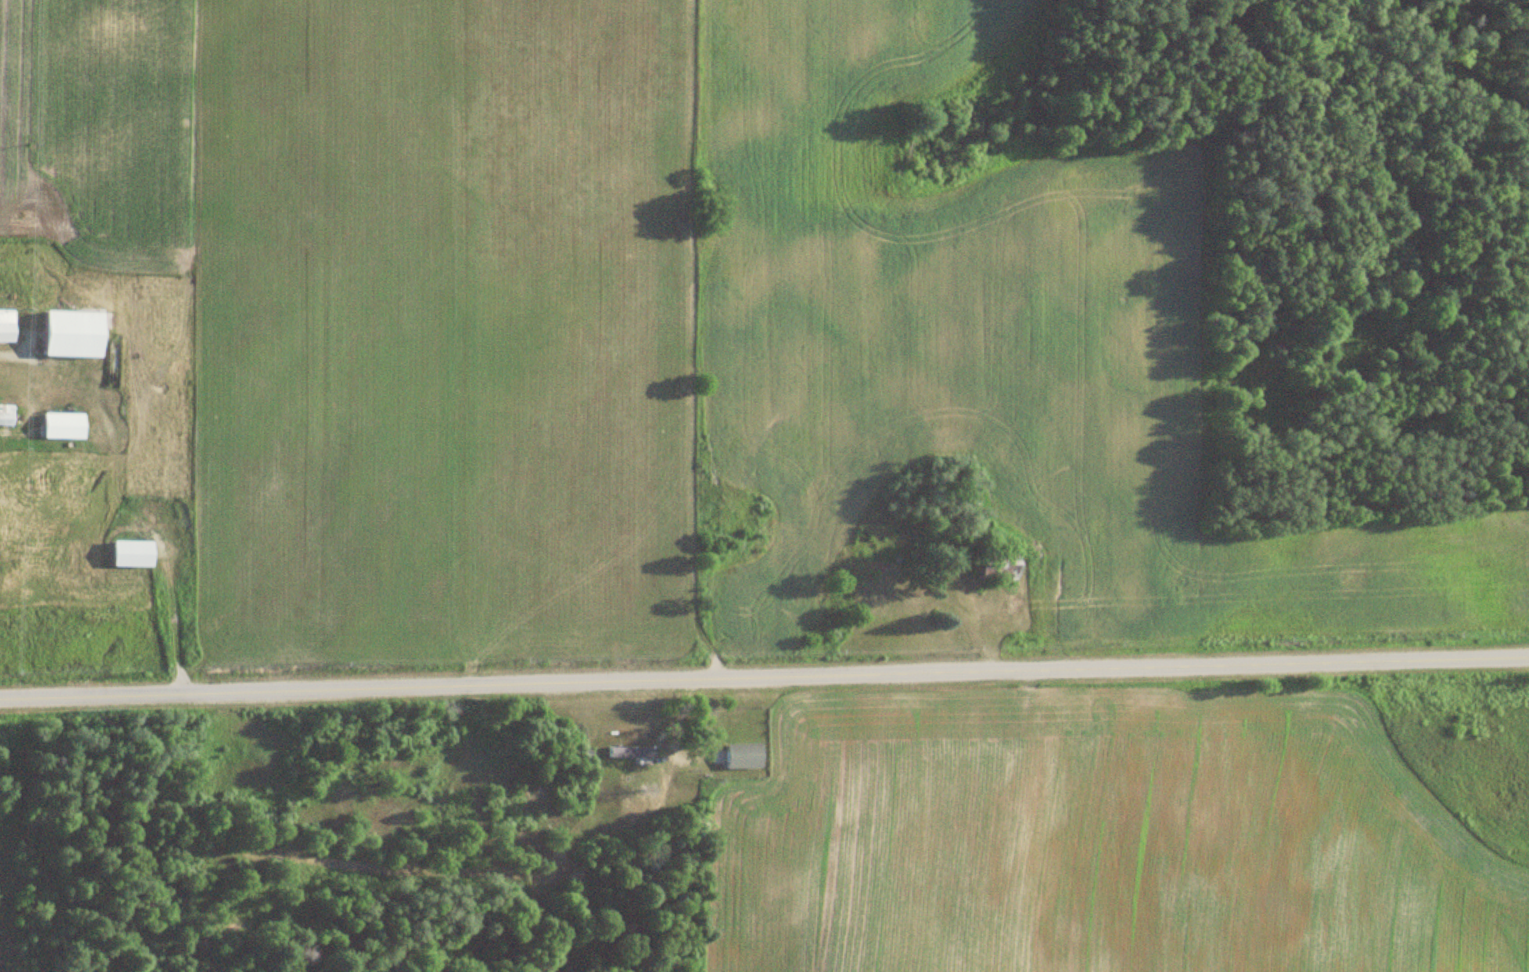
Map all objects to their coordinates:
building: (6, 327)
building: (73, 334)
road: (5, 359)
building: (6, 416)
building: (63, 427)
building: (132, 555)
building: (996, 572)
road: (764, 687)
building: (629, 751)
building: (742, 755)

